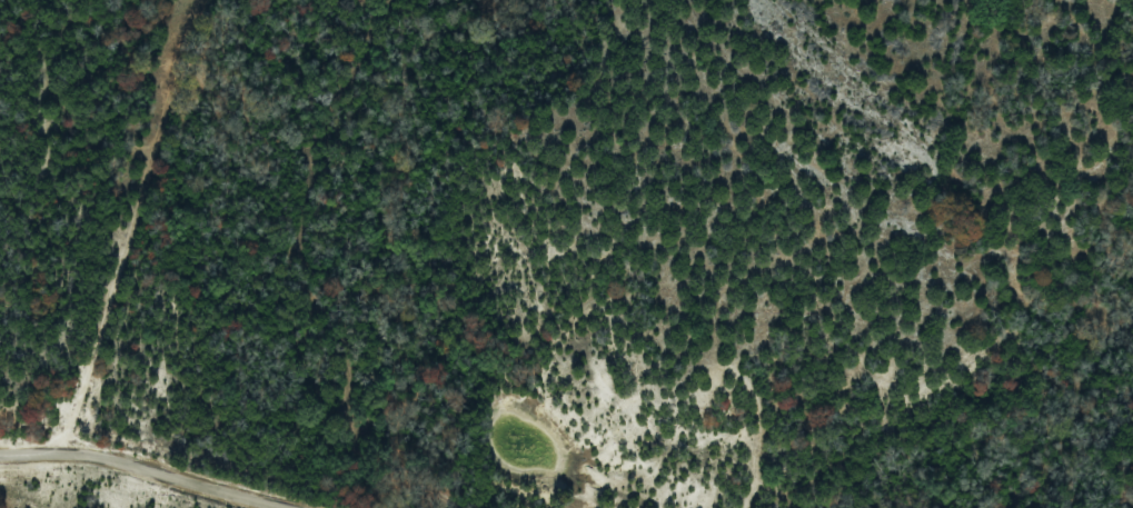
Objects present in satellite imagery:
road: (136, 471)

